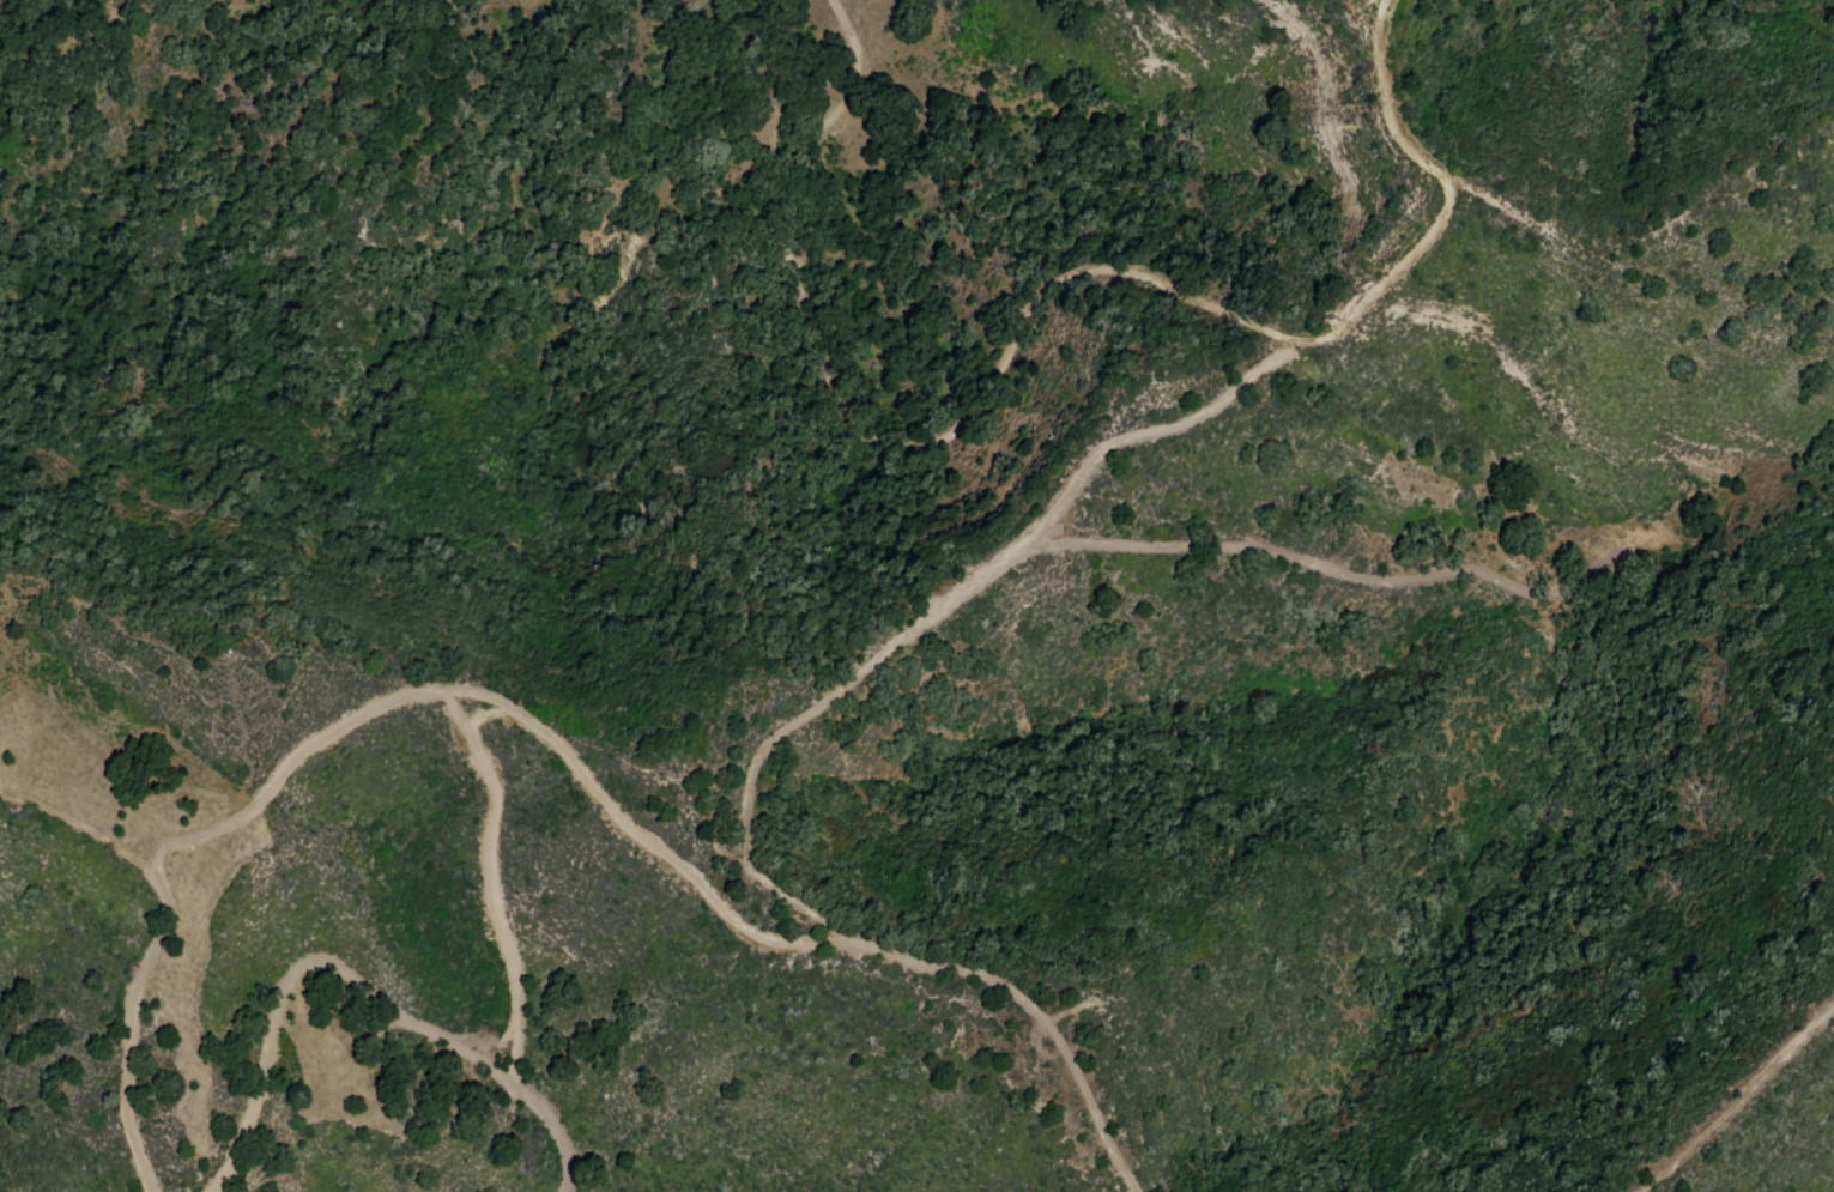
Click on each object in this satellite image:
road: (57, 817)
road: (362, 982)
road: (128, 1009)

